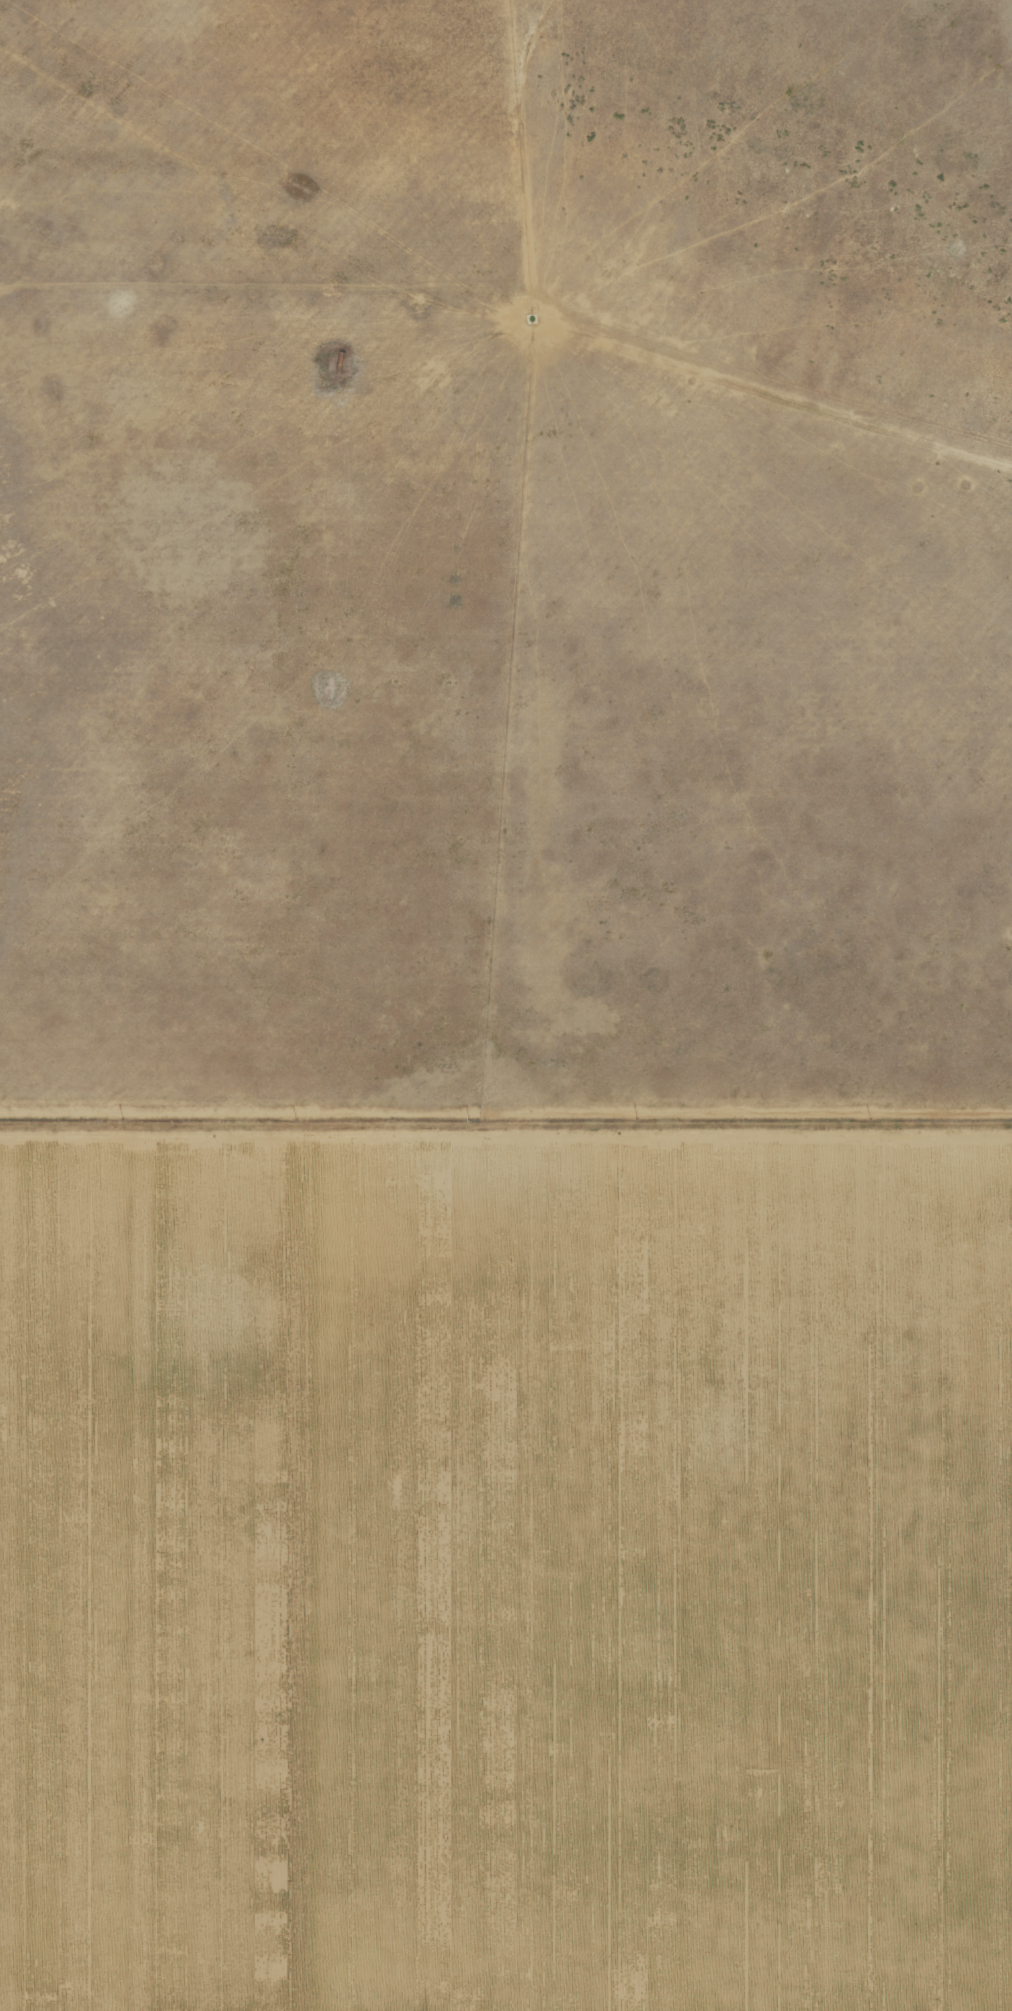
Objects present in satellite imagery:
road: (505, 1125)

